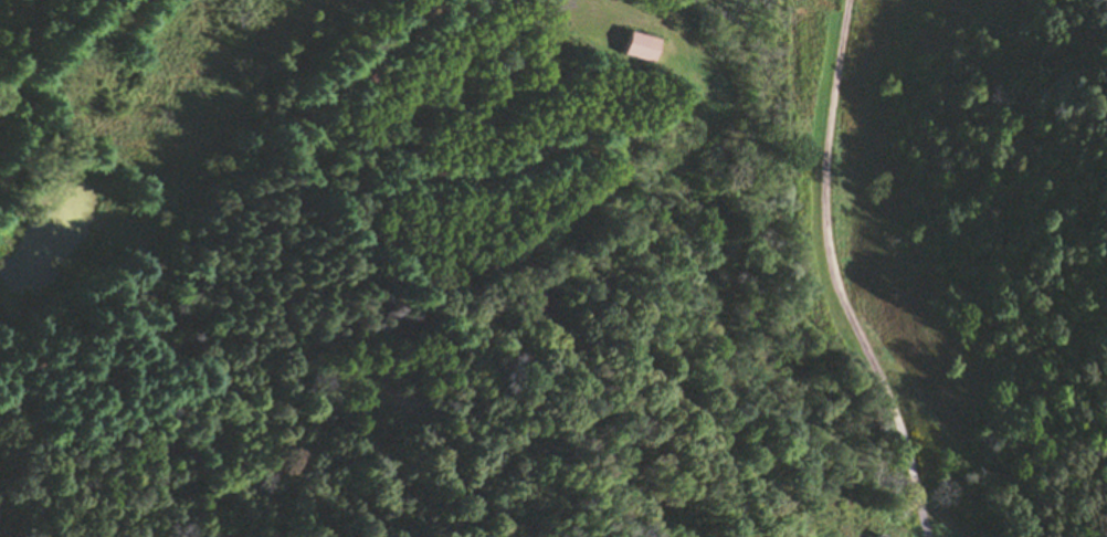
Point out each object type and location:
building: (637, 49)
road: (835, 277)

